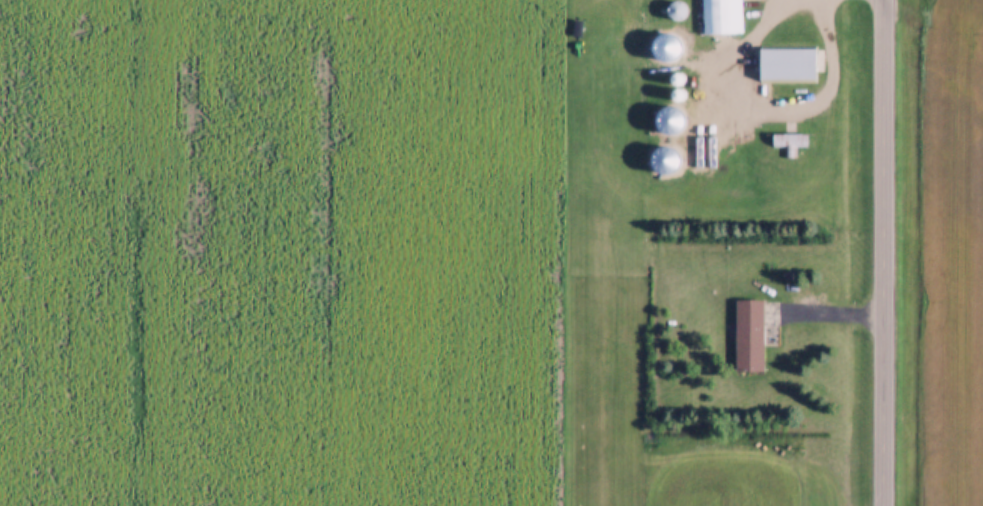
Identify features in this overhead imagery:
building: (674, 7)
silo: (674, 7)
building: (719, 15)
building: (675, 33)
silo: (675, 33)
building: (675, 51)
silo: (675, 51)
building: (788, 64)
building: (676, 77)
silo: (676, 77)
storage tank: (796, 87)
building: (677, 92)
silo: (677, 92)
road: (771, 108)
building: (668, 119)
silo: (668, 119)
building: (788, 140)
building: (663, 159)
silo: (663, 159)
airport: (670, 185)
road: (884, 252)
airport runway: (600, 253)
building: (789, 275)
building: (748, 335)

